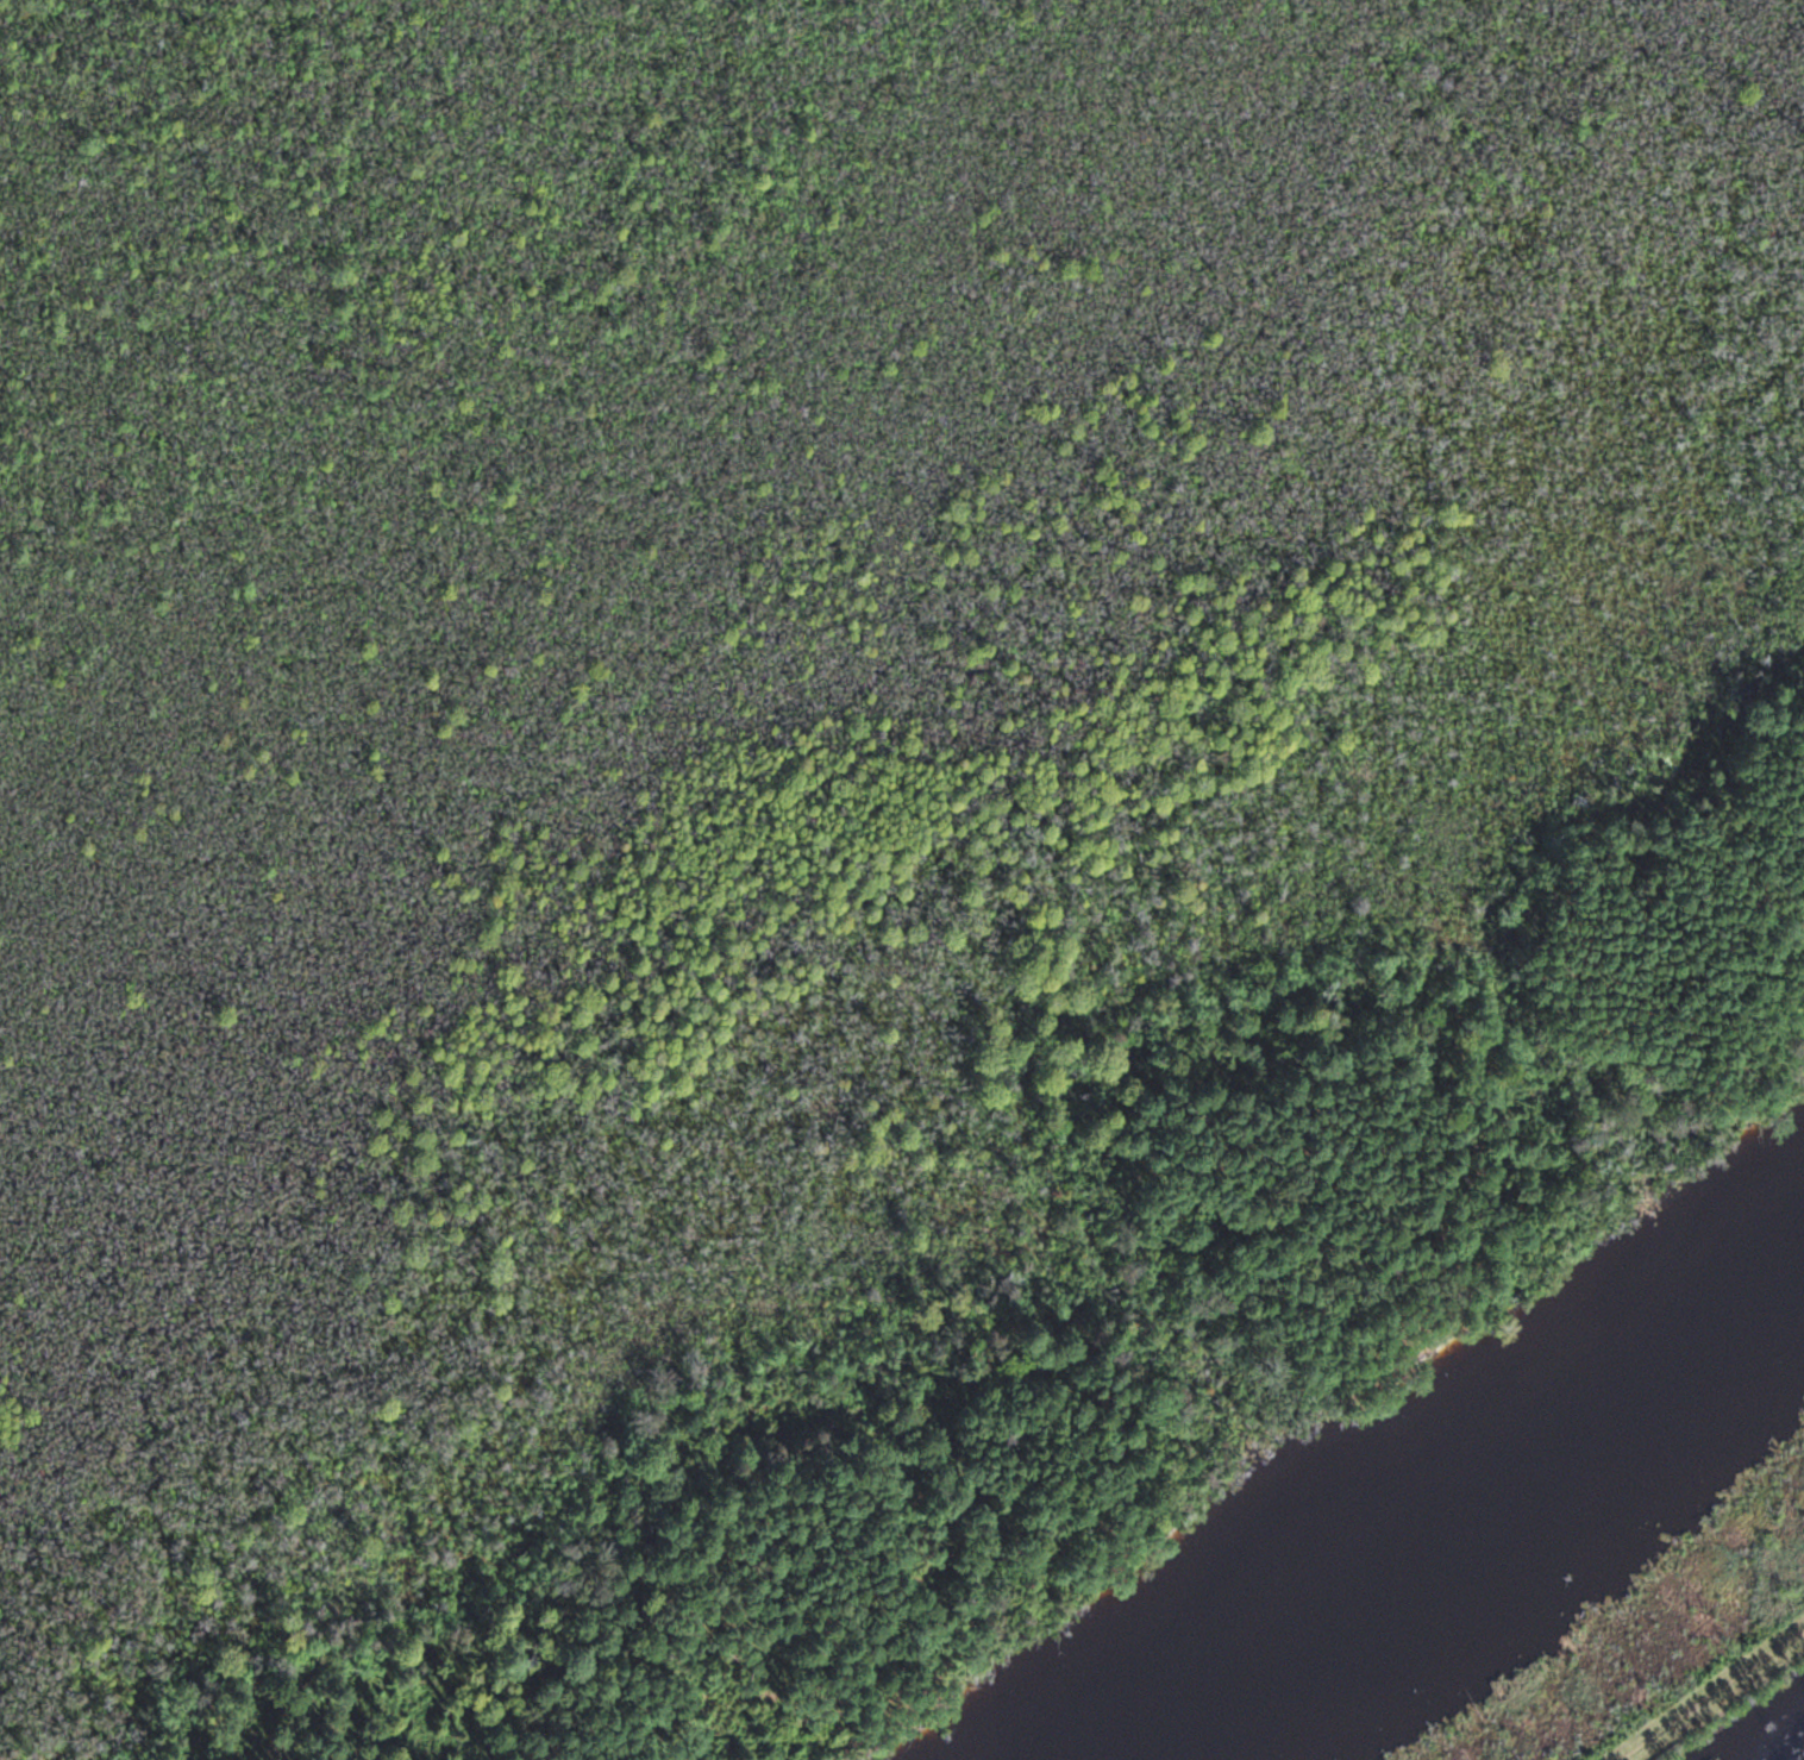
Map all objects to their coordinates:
road: (1700, 1684)

